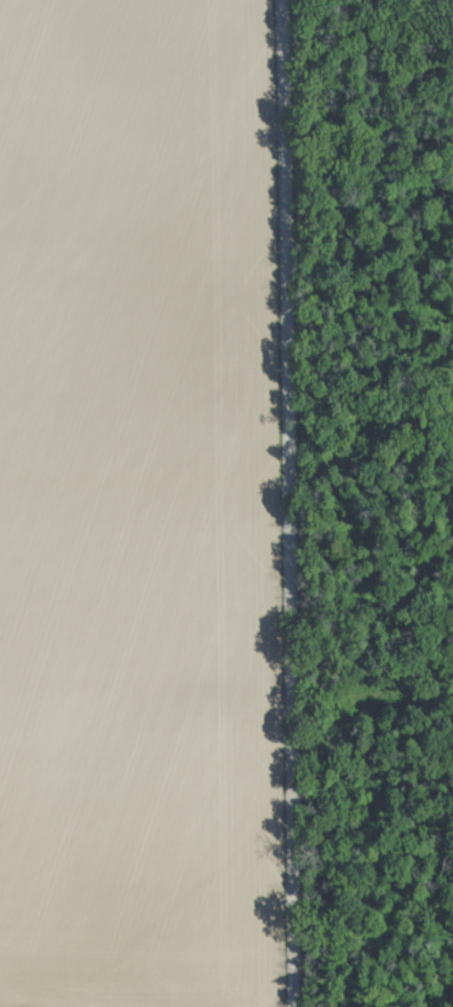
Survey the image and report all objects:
road: (260, 506)

